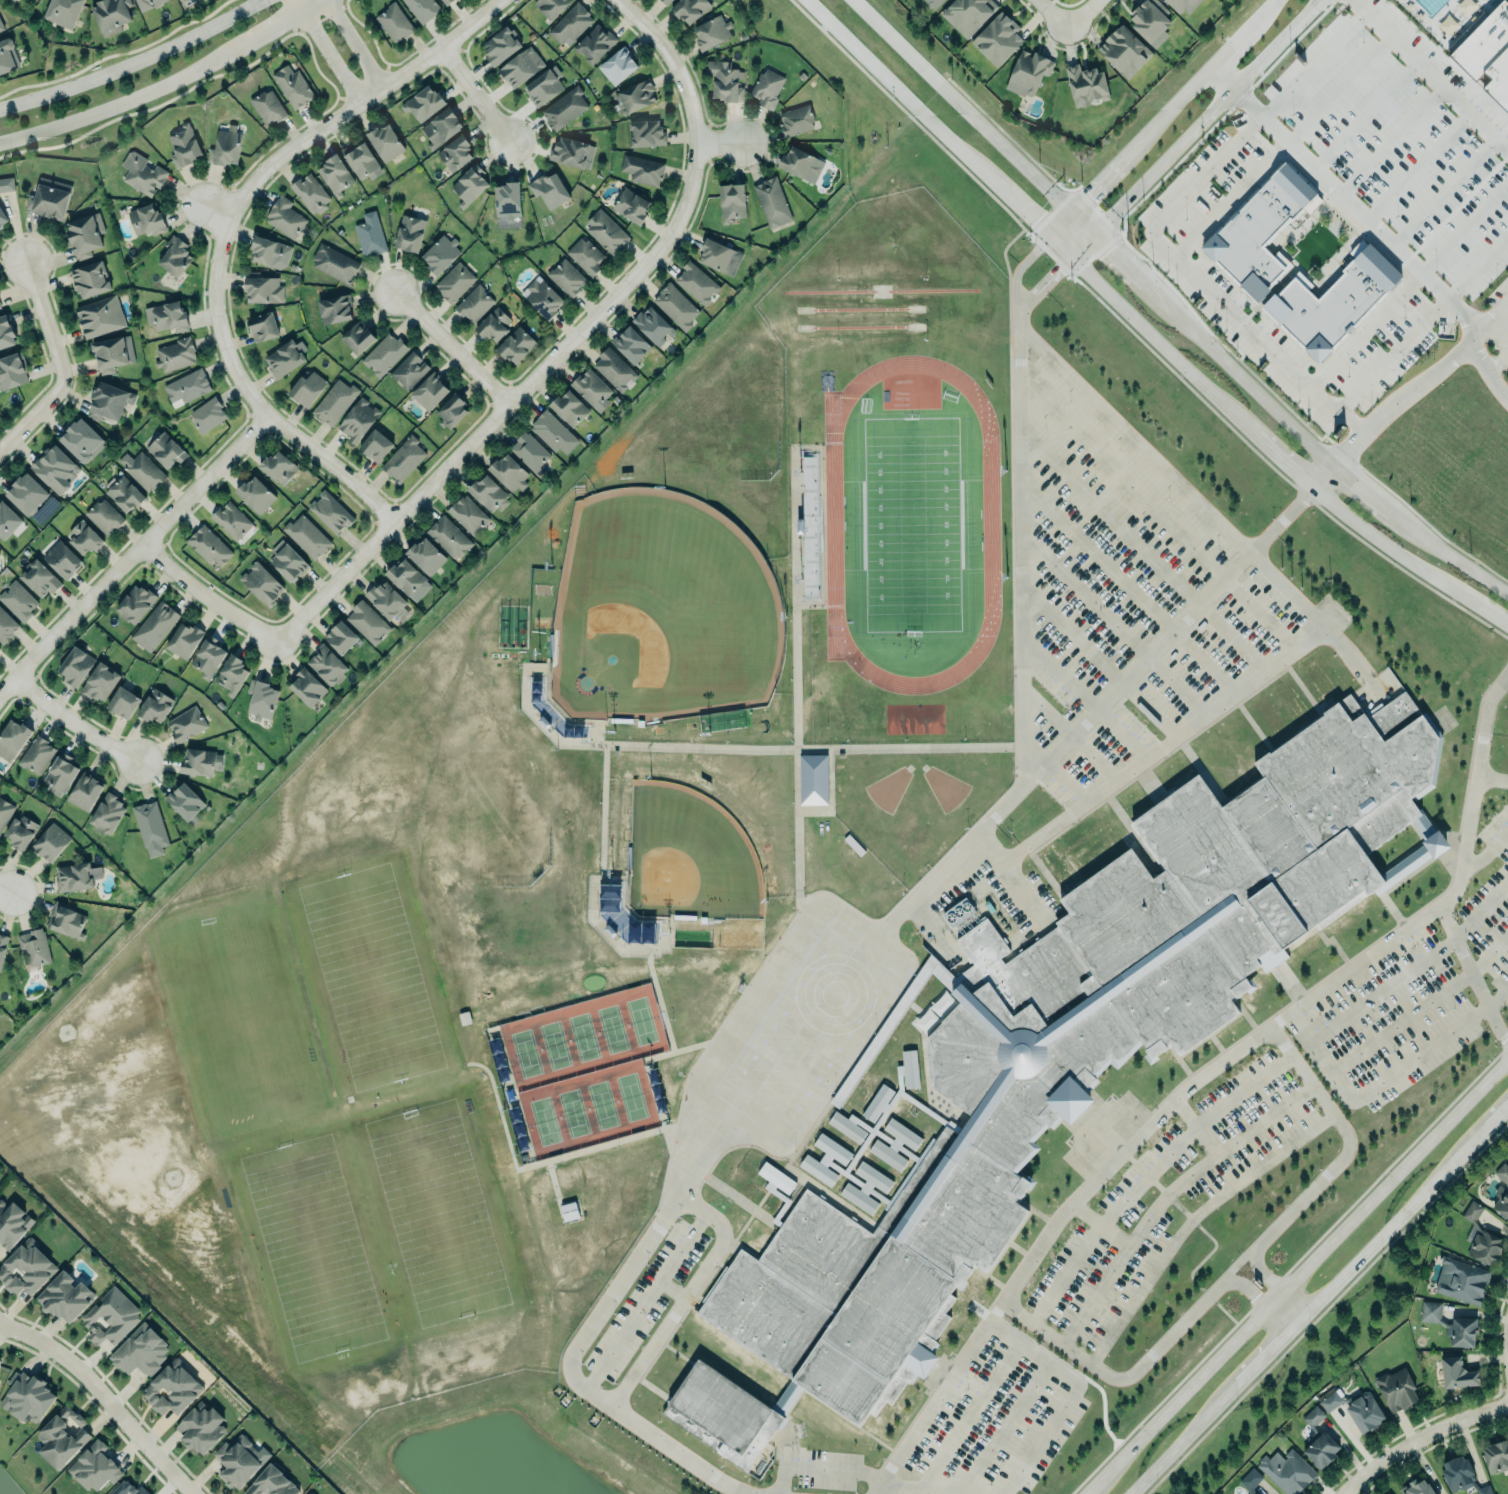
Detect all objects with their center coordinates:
road: (327, 0)
building: (1164, 0)
building: (14, 1)
building: (446, 1)
building: (665, 1)
building: (934, 3)
building: (149, 4)
building: (1184, 5)
building: (550, 7)
building: (423, 9)
building: (690, 9)
building: (64, 12)
building: (969, 14)
building: (112, 15)
road: (1050, 18)
road: (1085, 18)
road: (872, 19)
building: (396, 21)
building: (1152, 21)
building: (571, 24)
road: (284, 25)
building: (0, 29)
building: (713, 31)
road: (837, 33)
building: (997, 39)
road: (355, 44)
building: (595, 44)
building: (502, 46)
building: (1487, 48)
building: (1124, 51)
road: (326, 52)
building: (8, 56)
road: (133, 62)
building: (618, 66)
building: (521, 67)
road: (1207, 68)
building: (1028, 73)
road: (1430, 74)
road: (1404, 76)
building: (1348, 78)
building: (725, 80)
building: (543, 86)
building: (1086, 86)
road: (1292, 86)
building: (293, 87)
building: (768, 88)
road: (478, 95)
building: (633, 97)
road: (122, 100)
building: (1383, 102)
building: (424, 103)
building: (267, 107)
building: (564, 108)
road: (922, 116)
road: (1375, 117)
building: (798, 120)
road: (1307, 125)
road: (1404, 125)
road: (324, 127)
building: (442, 128)
road: (1193, 129)
building: (647, 134)
road: (1342, 136)
road: (725, 141)
building: (385, 142)
building: (185, 145)
building: (227, 148)
building: (572, 152)
building: (456, 154)
building: (362, 162)
road: (1471, 162)
building: (801, 164)
building: (642, 170)
building: (142, 174)
building: (335, 175)
road: (1436, 178)
building: (6, 184)
building: (470, 185)
road: (1094, 185)
building: (549, 190)
building: (310, 194)
road: (182, 195)
building: (50, 198)
road: (1228, 199)
building: (508, 201)
road: (1345, 201)
building: (732, 202)
building: (773, 202)
road: (1492, 202)
building: (631, 206)
road: (1022, 210)
building: (285, 218)
building: (2, 219)
building: (147, 219)
building: (1258, 226)
building: (607, 231)
building: (409, 233)
building: (370, 234)
building: (86, 235)
road: (1499, 246)
road: (1112, 251)
building: (271, 252)
building: (441, 254)
building: (175, 256)
building: (585, 256)
building: (720, 257)
building: (335, 263)
road: (1017, 270)
road: (1188, 273)
building: (566, 277)
road: (1468, 278)
building: (91, 279)
building: (455, 282)
building: (698, 282)
road: (1042, 286)
building: (263, 290)
building: (1334, 297)
building: (544, 298)
building: (474, 304)
building: (0, 306)
building: (676, 306)
building: (335, 309)
building: (102, 316)
building: (167, 317)
building: (494, 324)
building: (654, 326)
road: (1489, 327)
building: (263, 328)
road: (1364, 329)
road: (1148, 332)
building: (6, 333)
building: (356, 335)
road: (568, 345)
building: (632, 345)
building: (517, 346)
road: (453, 349)
building: (114, 353)
building: (385, 354)
building: (174, 355)
building: (285, 358)
road: (1497, 360)
road: (55, 363)
road: (1383, 363)
building: (615, 369)
building: (12, 370)
building: (409, 371)
road: (1425, 382)
building: (186, 387)
building: (308, 388)
building: (593, 390)
building: (430, 392)
building: (110, 402)
building: (334, 402)
building: (569, 408)
building: (451, 412)
building: (207, 415)
building: (359, 420)
road: (284, 426)
building: (552, 431)
building: (83, 441)
building: (376, 446)
road: (1267, 448)
building: (166, 450)
building: (531, 451)
building: (404, 459)
building: (279, 468)
building: (56, 469)
building: (142, 470)
building: (510, 473)
road: (1321, 476)
road: (1367, 493)
building: (124, 494)
building: (489, 494)
building: (27, 495)
building: (256, 495)
road: (1203, 507)
building: (331, 512)
building: (469, 514)
building: (104, 517)
building: (231, 521)
building: (8, 522)
building: (83, 537)
building: (307, 537)
building: (449, 537)
road: (1379, 540)
building: (210, 546)
road: (133, 552)
road: (1018, 552)
building: (426, 556)
road: (1096, 557)
road: (1455, 557)
building: (62, 559)
building: (287, 562)
building: (405, 576)
building: (39, 579)
building: (261, 584)
road: (1084, 594)
road: (205, 595)
building: (19, 601)
building: (387, 601)
building: (134, 602)
road: (1480, 606)
road: (1259, 616)
building: (368, 623)
building: (154, 625)
building: (6, 626)
building: (340, 637)
building: (183, 640)
building: (208, 655)
building: (76, 664)
building: (327, 667)
building: (232, 672)
building: (1317, 679)
building: (99, 680)
building: (308, 688)
building: (261, 698)
building: (122, 700)
building: (155, 706)
building: (1278, 706)
road: (74, 722)
building: (182, 723)
building: (12, 737)
road: (1162, 746)
building: (36, 755)
building: (198, 759)
building: (60, 772)
building: (813, 779)
building: (84, 791)
building: (185, 801)
building: (5, 811)
building: (107, 812)
building: (150, 827)
building: (21, 831)
building: (46, 841)
building: (1085, 841)
road: (1486, 853)
road: (1461, 866)
building: (71, 877)
road: (1011, 882)
road: (5, 888)
building: (612, 908)
building: (66, 919)
building: (34, 946)
building: (2, 948)
road: (1413, 969)
road: (837, 986)
road: (1498, 999)
road: (1422, 1007)
building: (935, 1012)
building: (1064, 1055)
building: (909, 1069)
road: (1375, 1086)
road: (1194, 1126)
road: (1482, 1130)
road: (1348, 1139)
building: (895, 1144)
building: (858, 1152)
road: (1212, 1157)
building: (825, 1159)
road: (1115, 1159)
road: (1148, 1175)
building: (866, 1188)
building: (771, 1190)
building: (1502, 1190)
building: (12, 1223)
building: (1481, 1237)
road: (1376, 1239)
road: (1236, 1262)
road: (1116, 1265)
road: (1308, 1265)
building: (26, 1267)
road: (1259, 1271)
building: (1461, 1279)
road: (1244, 1286)
road: (655, 1288)
road: (671, 1291)
building: (65, 1298)
road: (1289, 1307)
road: (677, 1309)
road: (1281, 1315)
building: (110, 1316)
building: (1450, 1323)
building: (139, 1350)
road: (1257, 1361)
building: (1452, 1371)
road: (1117, 1378)
building: (172, 1387)
building: (1396, 1389)
building: (27, 1396)
road: (105, 1397)
building: (1355, 1408)
road: (970, 1414)
building: (201, 1427)
road: (1007, 1427)
building: (62, 1437)
road: (1418, 1437)
building: (1318, 1439)
road: (1036, 1443)
road: (1173, 1447)
building: (1496, 1456)
building: (238, 1460)
building: (94, 1467)
road: (820, 1469)
building: (1287, 1471)
building: (1461, 1475)
building: (1250, 1479)
building: (271, 1482)
road: (1098, 1482)
building: (1417, 1486)
building: (127, 1489)
building: (309, 1493)
building: (1257, 1493)

